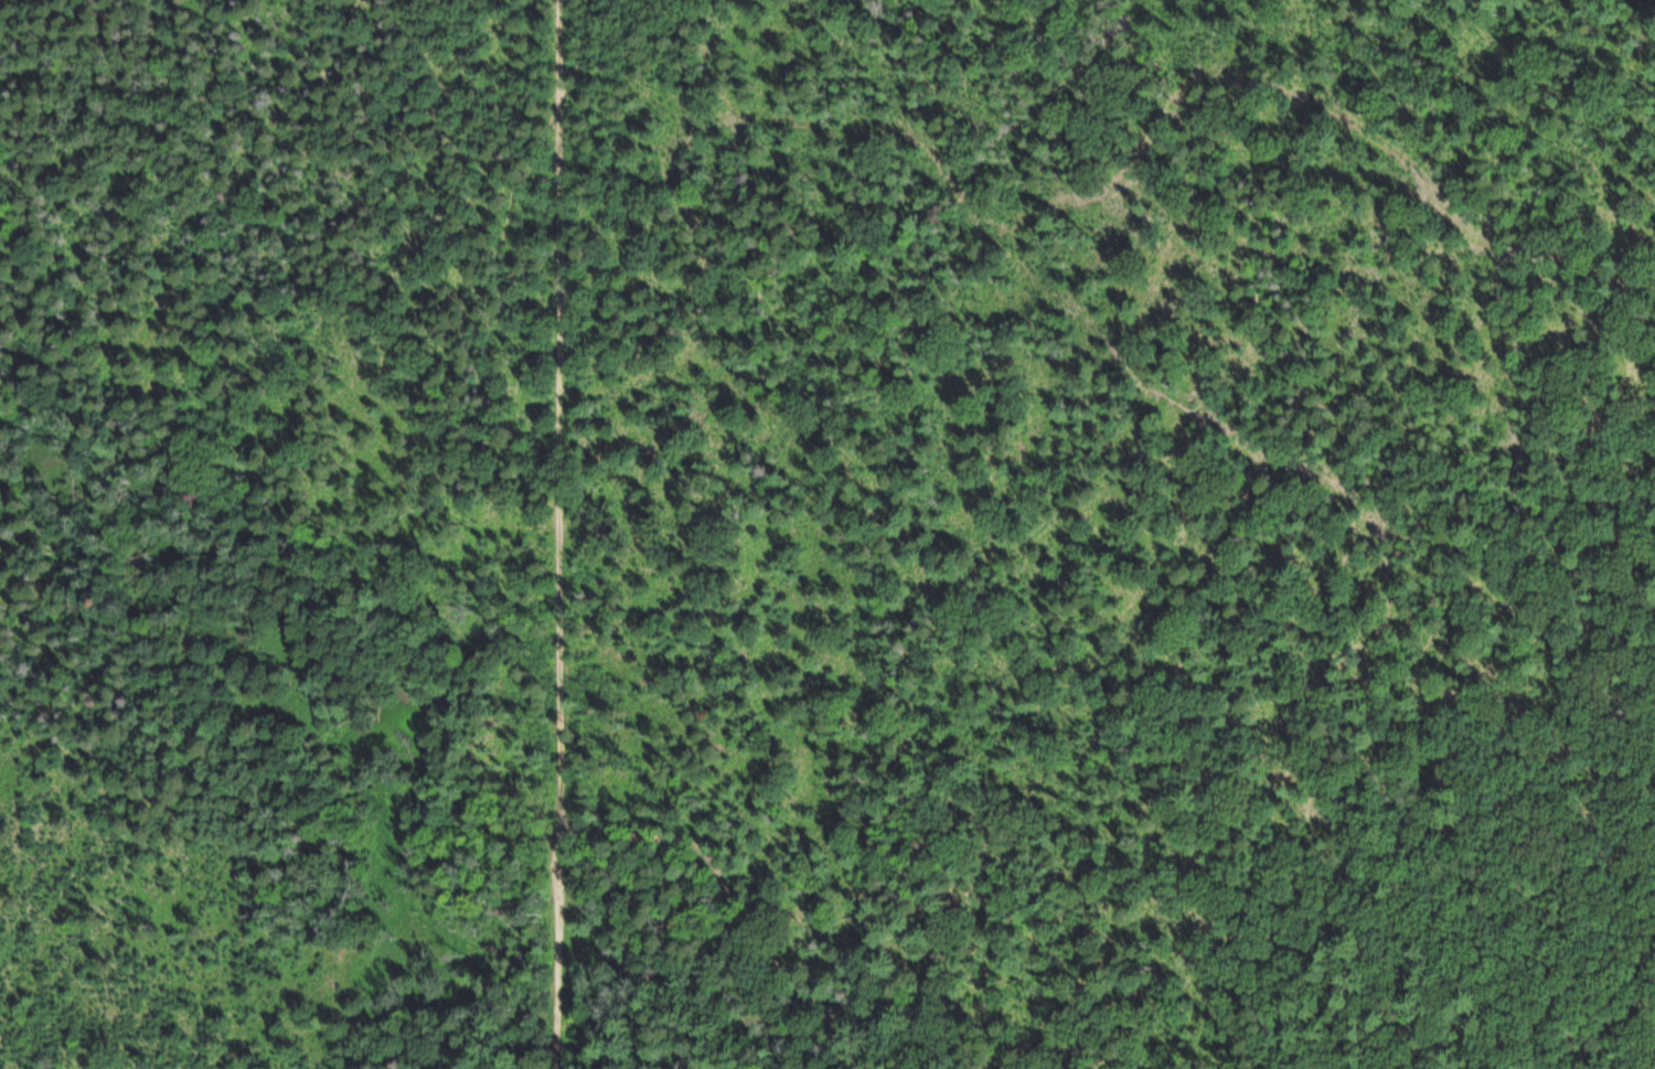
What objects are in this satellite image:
road: (615, 41)
road: (559, 469)
road: (868, 512)
road: (1441, 568)
road: (733, 902)
road: (1652, 943)
road: (556, 958)
road: (557, 1023)

